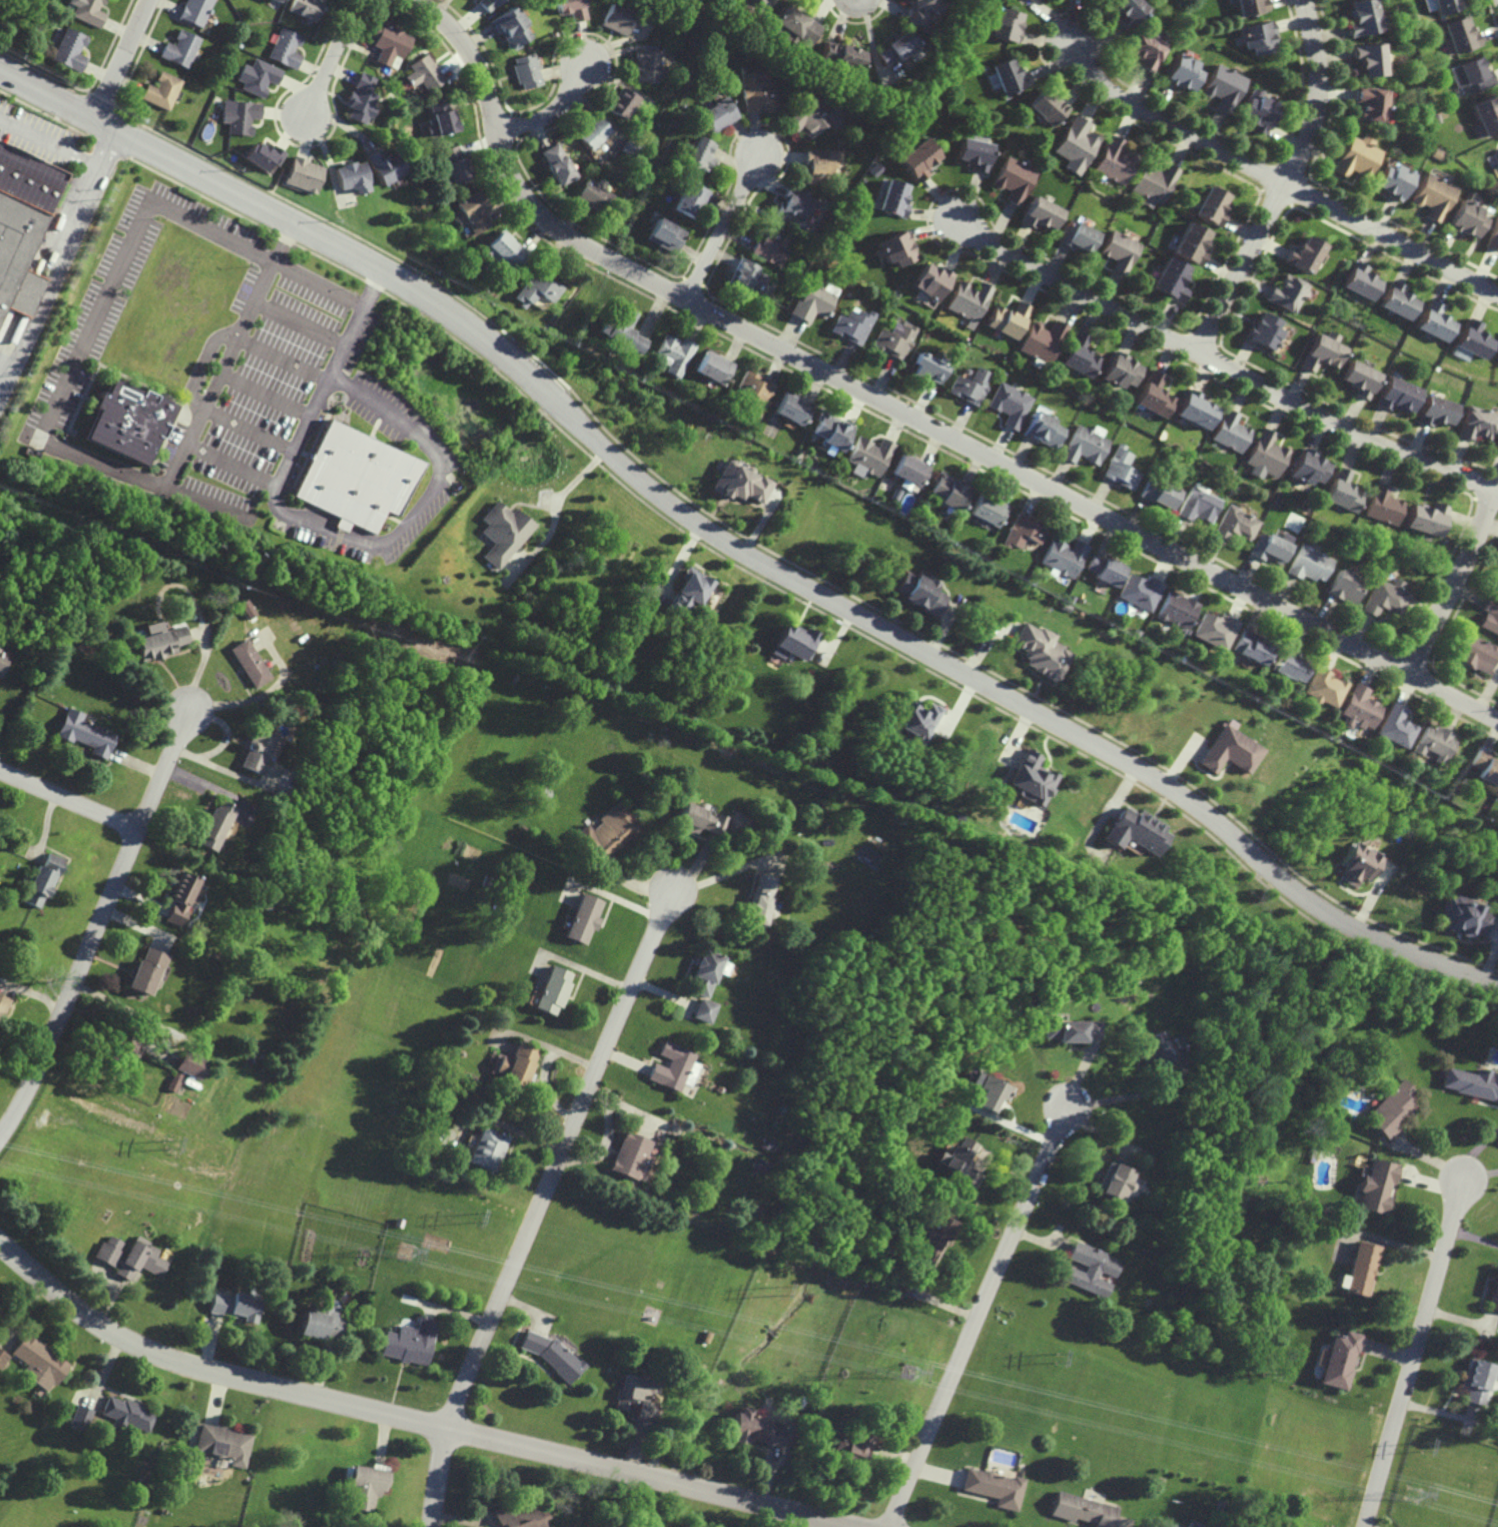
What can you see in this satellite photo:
building: (1023, 0)
building: (277, 1)
building: (485, 4)
building: (754, 5)
building: (1428, 5)
building: (1445, 6)
building: (1250, 7)
building: (306, 8)
building: (569, 9)
building: (87, 11)
building: (194, 11)
building: (1126, 11)
building: (922, 12)
building: (615, 18)
building: (1360, 18)
building: (1007, 25)
building: (509, 27)
building: (792, 27)
building: (1460, 33)
building: (1256, 37)
building: (389, 43)
road: (126, 48)
building: (284, 48)
building: (899, 48)
building: (180, 49)
building: (69, 50)
building: (1144, 50)
building: (841, 55)
road: (331, 56)
building: (1366, 57)
building: (646, 66)
building: (524, 71)
building: (1182, 72)
building: (422, 73)
building: (1470, 74)
building: (257, 77)
building: (1010, 77)
building: (1222, 86)
building: (160, 90)
building: (756, 94)
building: (361, 96)
building: (1368, 101)
building: (620, 102)
building: (1047, 105)
road: (99, 107)
building: (1256, 110)
road: (552, 112)
building: (812, 112)
building: (1487, 113)
building: (717, 114)
building: (238, 115)
building: (439, 118)
building: (591, 132)
building: (1076, 145)
building: (974, 153)
road: (67, 155)
building: (261, 156)
building: (698, 156)
building: (918, 159)
building: (1118, 159)
building: (1351, 159)
building: (455, 163)
building: (555, 164)
building: (385, 165)
building: (821, 165)
building: (302, 174)
building: (352, 176)
road: (1273, 178)
building: (1013, 179)
building: (1391, 181)
building: (1156, 183)
road: (1287, 183)
building: (593, 196)
building: (1430, 196)
building: (689, 198)
building: (892, 198)
building: (793, 205)
building: (1212, 205)
building: (470, 212)
building: (1042, 213)
building: (1462, 219)
building: (22, 222)
road: (723, 226)
building: (664, 236)
building: (1078, 237)
building: (1492, 237)
building: (1192, 243)
building: (768, 245)
building: (896, 249)
building: (506, 250)
building: (1120, 251)
building: (1304, 256)
building: (747, 276)
road: (49, 280)
building: (932, 281)
building: (1171, 281)
building: (1360, 282)
building: (536, 289)
building: (1284, 294)
building: (969, 300)
building: (1397, 301)
building: (811, 303)
building: (1007, 319)
building: (1433, 323)
building: (852, 325)
building: (621, 329)
building: (1264, 330)
building: (895, 339)
building: (1473, 339)
building: (1041, 340)
building: (1322, 351)
building: (674, 353)
building: (1079, 355)
road: (1223, 365)
building: (715, 368)
building: (929, 368)
building: (1120, 371)
building: (1359, 379)
building: (970, 387)
building: (755, 392)
building: (1397, 395)
building: (1153, 396)
building: (1010, 405)
building: (793, 408)
building: (1193, 408)
road: (899, 411)
building: (1436, 411)
building: (127, 422)
building: (1476, 423)
building: (830, 430)
building: (1042, 430)
building: (1230, 431)
road: (58, 445)
building: (1084, 445)
building: (1497, 446)
building: (869, 455)
building: (1265, 456)
road: (229, 464)
building: (1121, 468)
building: (1307, 469)
building: (910, 470)
building: (356, 478)
building: (740, 483)
building: (949, 490)
building: (1343, 491)
building: (1158, 493)
building: (1382, 504)
building: (1197, 505)
building: (988, 510)
building: (1425, 519)
building: (1235, 524)
road: (319, 526)
building: (503, 532)
building: (1269, 546)
road: (736, 548)
building: (1064, 555)
building: (1308, 564)
building: (1105, 569)
road: (1455, 583)
building: (1345, 587)
building: (689, 591)
building: (1140, 591)
building: (919, 592)
building: (1385, 597)
building: (1176, 610)
building: (1489, 616)
building: (1214, 630)
building: (794, 642)
building: (159, 643)
building: (1250, 648)
building: (1041, 651)
building: (1474, 654)
building: (1, 658)
building: (248, 663)
building: (1290, 668)
building: (1323, 687)
building: (1357, 708)
building: (915, 718)
building: (1394, 726)
building: (83, 733)
building: (1433, 744)
building: (258, 749)
building: (1228, 749)
building: (1485, 766)
building: (1030, 779)
road: (69, 802)
building: (700, 820)
building: (214, 825)
building: (1134, 831)
building: (608, 833)
building: (1356, 865)
building: (41, 881)
building: (180, 898)
building: (761, 900)
building: (773, 911)
building: (1464, 917)
building: (584, 918)
road: (99, 927)
building: (144, 971)
building: (704, 973)
building: (554, 990)
building: (2, 1004)
building: (704, 1010)
building: (1070, 1030)
building: (126, 1046)
building: (1152, 1051)
building: (516, 1064)
building: (191, 1065)
building: (671, 1066)
building: (690, 1073)
building: (173, 1082)
building: (1471, 1083)
building: (989, 1091)
building: (1391, 1110)
road: (1009, 1125)
building: (489, 1149)
building: (630, 1156)
building: (963, 1161)
building: (1113, 1180)
building: (1375, 1186)
road: (543, 1203)
power tower: (471, 1222)
building: (932, 1239)
power tower: (405, 1252)
building: (130, 1257)
building: (1089, 1269)
building: (1359, 1269)
power tower: (778, 1291)
building: (1494, 1295)
building: (235, 1306)
road: (982, 1316)
building: (322, 1324)
building: (410, 1342)
road: (1415, 1353)
building: (552, 1355)
power tower: (1060, 1355)
building: (2, 1358)
building: (1339, 1359)
building: (38, 1362)
power tower: (905, 1371)
building: (1477, 1380)
building: (636, 1397)
building: (127, 1414)
building: (80, 1417)
road: (401, 1419)
building: (753, 1429)
building: (224, 1444)
building: (852, 1448)
power tower: (1422, 1448)
building: (366, 1487)
building: (993, 1487)
power tower: (1411, 1494)
building: (1083, 1510)
building: (518, 1517)
building: (1169, 1525)

